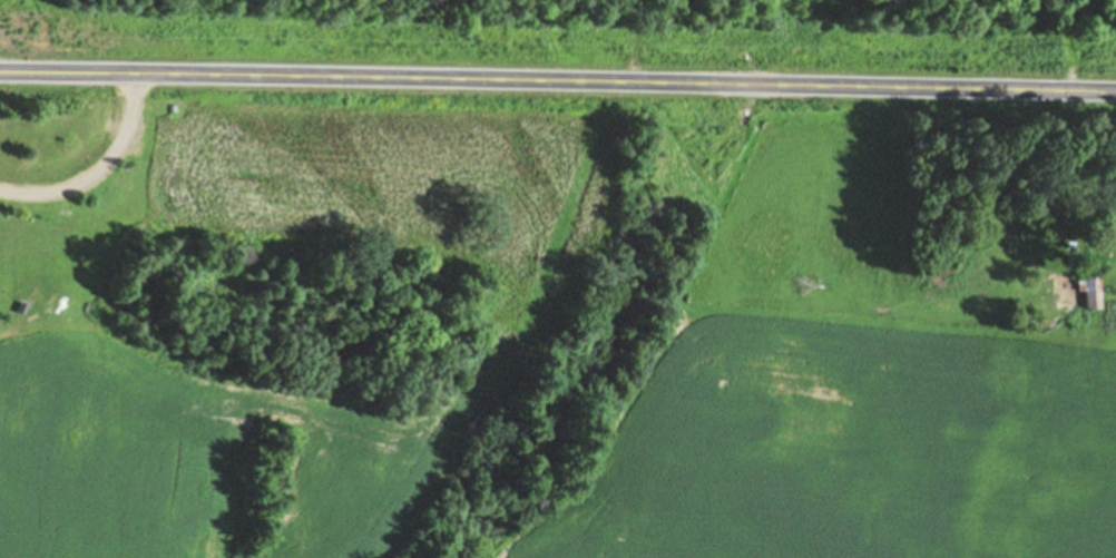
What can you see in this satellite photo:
road: (558, 98)
building: (1112, 224)

